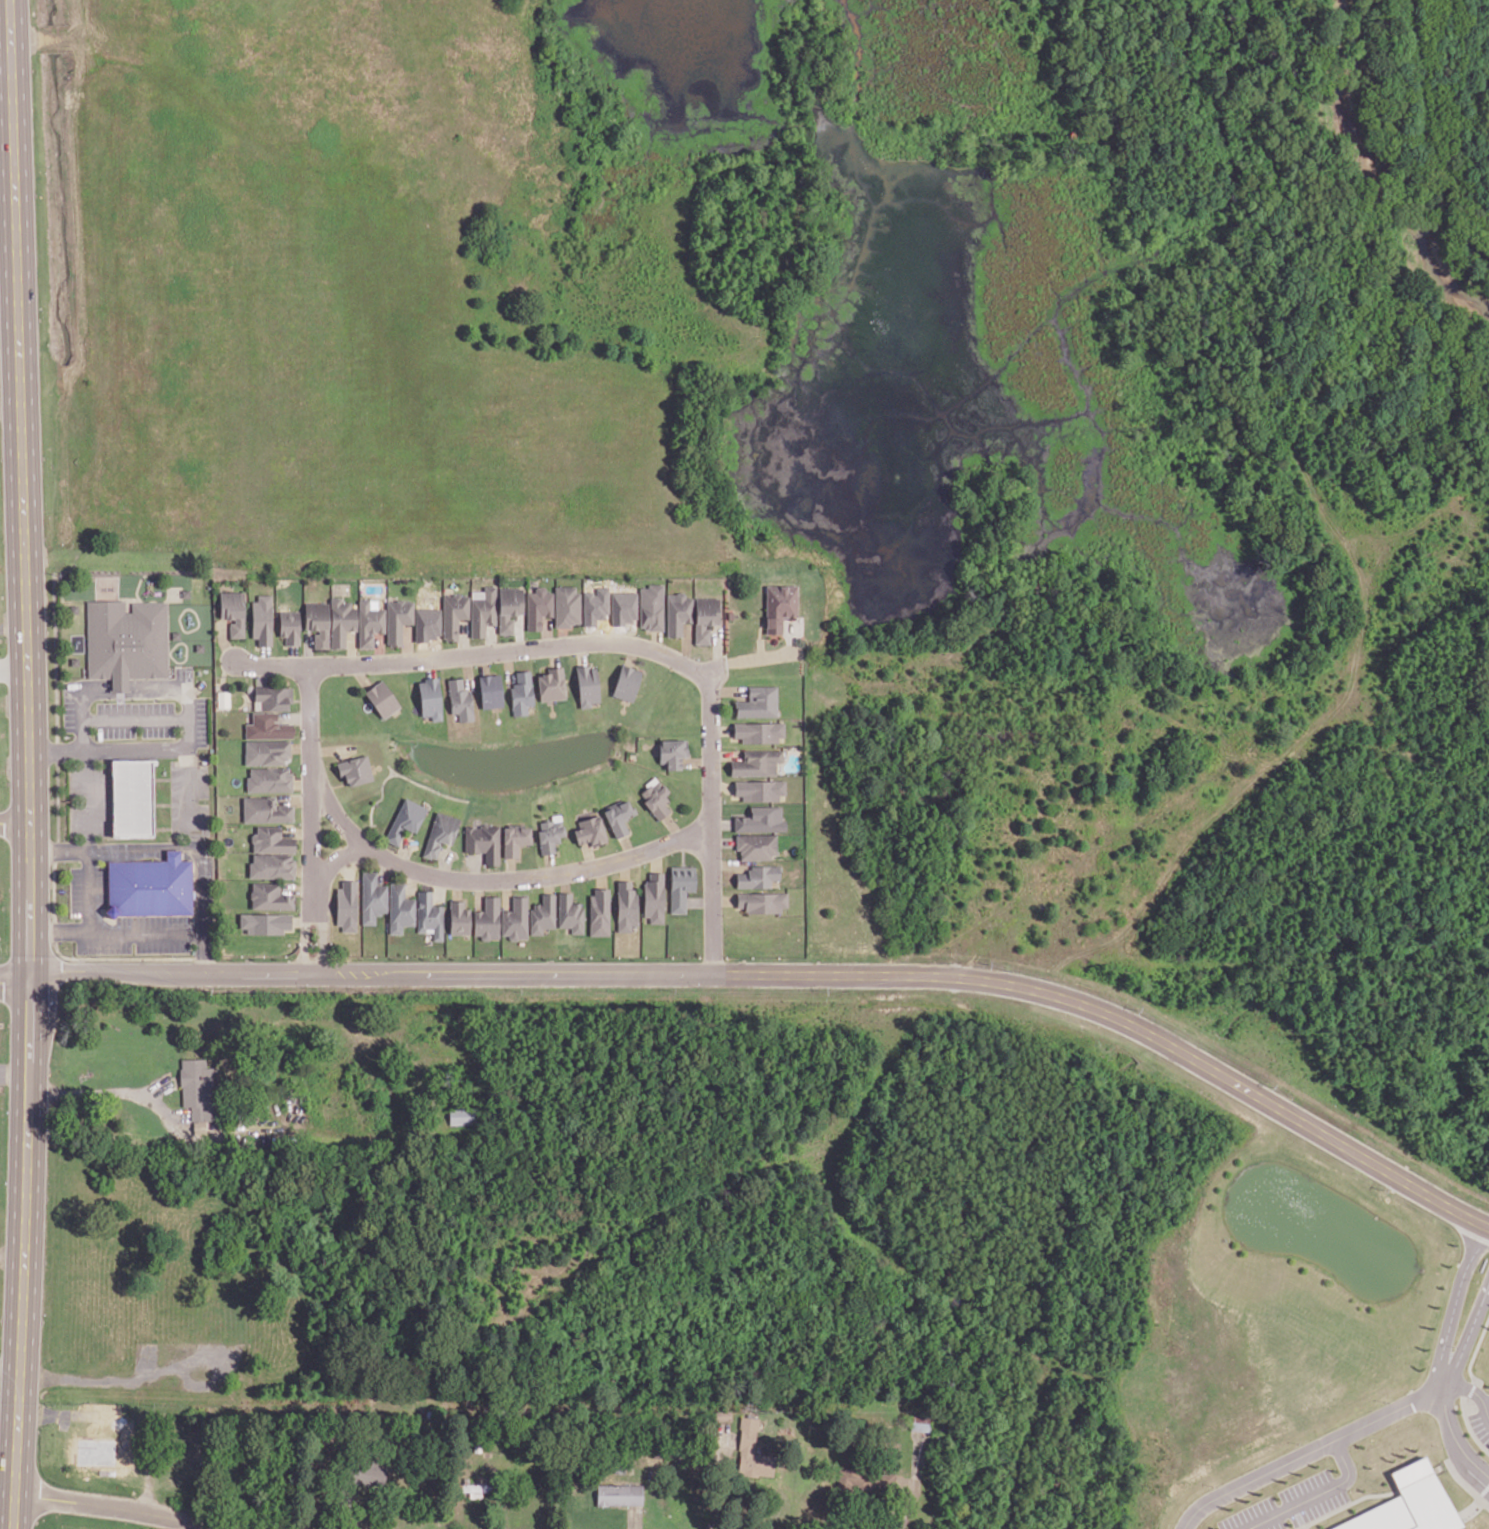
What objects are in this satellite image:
road: (6, 74)
road: (7, 126)
building: (566, 605)
building: (595, 605)
building: (779, 606)
building: (538, 607)
building: (623, 607)
building: (651, 607)
building: (509, 608)
building: (482, 610)
building: (233, 612)
building: (678, 613)
building: (453, 614)
building: (705, 618)
building: (262, 619)
building: (383, 620)
building: (341, 621)
building: (317, 623)
building: (427, 624)
building: (289, 626)
road: (14, 628)
building: (176, 634)
building: (126, 641)
building: (199, 646)
road: (472, 659)
road: (14, 668)
building: (626, 683)
building: (551, 684)
road: (119, 685)
building: (587, 685)
building: (490, 691)
building: (521, 693)
flagpole: (120, 697)
road: (185, 697)
building: (272, 698)
building: (430, 698)
building: (223, 699)
building: (382, 699)
building: (460, 700)
building: (758, 702)
road: (81, 708)
road: (294, 717)
road: (134, 720)
building: (267, 726)
building: (759, 731)
road: (104, 749)
street lamp: (202, 751)
building: (266, 752)
building: (672, 752)
building: (757, 763)
road: (31, 764)
building: (355, 770)
building: (269, 779)
road: (302, 782)
building: (760, 789)
building: (131, 797)
building: (655, 798)
road: (88, 799)
building: (265, 810)
building: (618, 817)
road: (312, 820)
building: (405, 820)
building: (761, 820)
road: (15, 824)
building: (590, 831)
road: (702, 831)
building: (440, 833)
building: (549, 835)
street lamp: (100, 837)
building: (515, 839)
building: (271, 841)
building: (483, 842)
road: (157, 845)
building: (756, 846)
road: (330, 861)
building: (271, 866)
building: (758, 876)
building: (150, 886)
road: (494, 886)
building: (681, 886)
road: (88, 889)
building: (270, 896)
building: (373, 898)
building: (654, 899)
building: (763, 902)
building: (347, 906)
building: (626, 906)
building: (400, 908)
building: (599, 911)
building: (570, 913)
building: (543, 914)
building: (430, 915)
building: (459, 918)
building: (487, 919)
building: (516, 919)
building: (265, 923)
road: (73, 929)
road: (179, 933)
road: (790, 981)
road: (16, 982)
street lamp: (304, 985)
road: (15, 1071)
building: (198, 1091)
building: (462, 1116)
road: (1450, 1302)
road: (1467, 1334)
road: (10, 1366)
road: (1430, 1388)
road: (1470, 1398)
parking lot: (1480, 1426)
road: (1451, 1445)
building: (752, 1452)
road: (1298, 1460)
building: (866, 1480)
road: (8, 1482)
building: (476, 1489)
road: (718, 1489)
building: (619, 1494)
road: (1317, 1497)
building: (1413, 1502)
road: (113, 1508)
parking lot: (1291, 1508)

